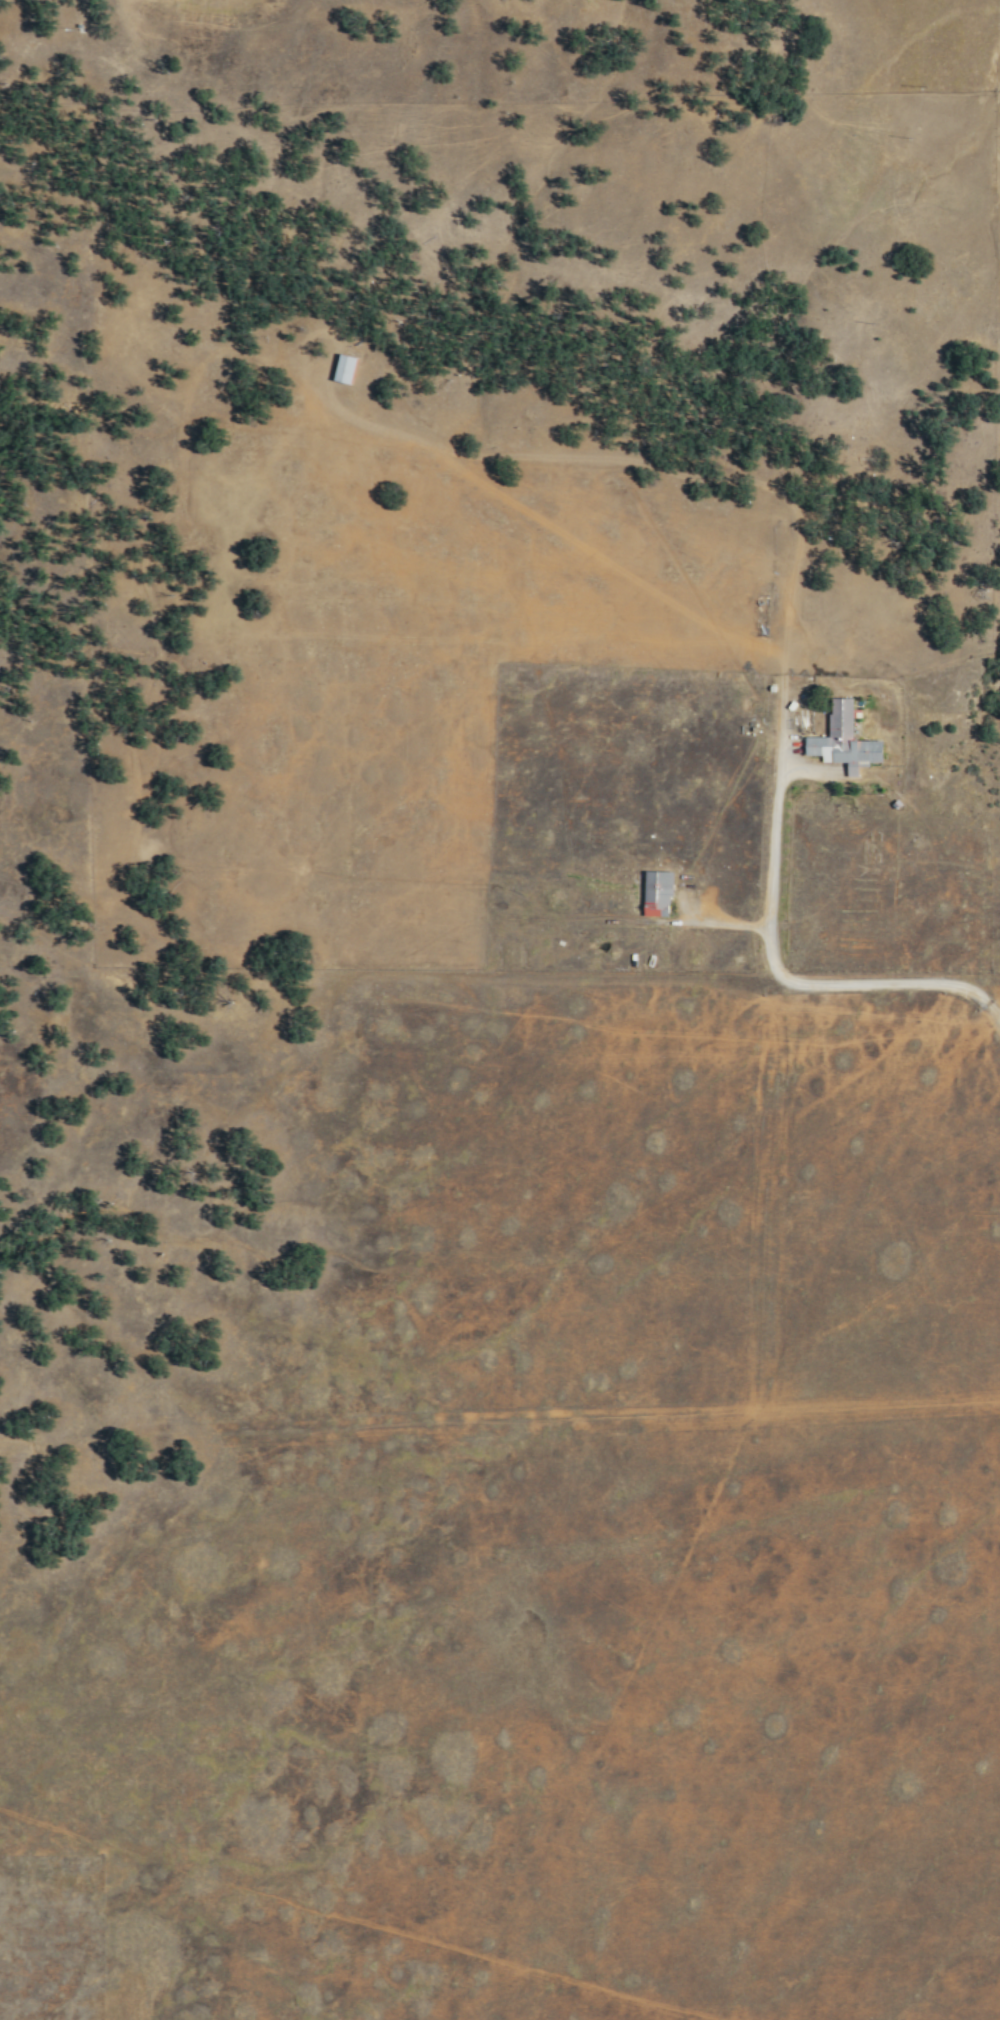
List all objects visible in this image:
building: (348, 369)
building: (655, 893)

